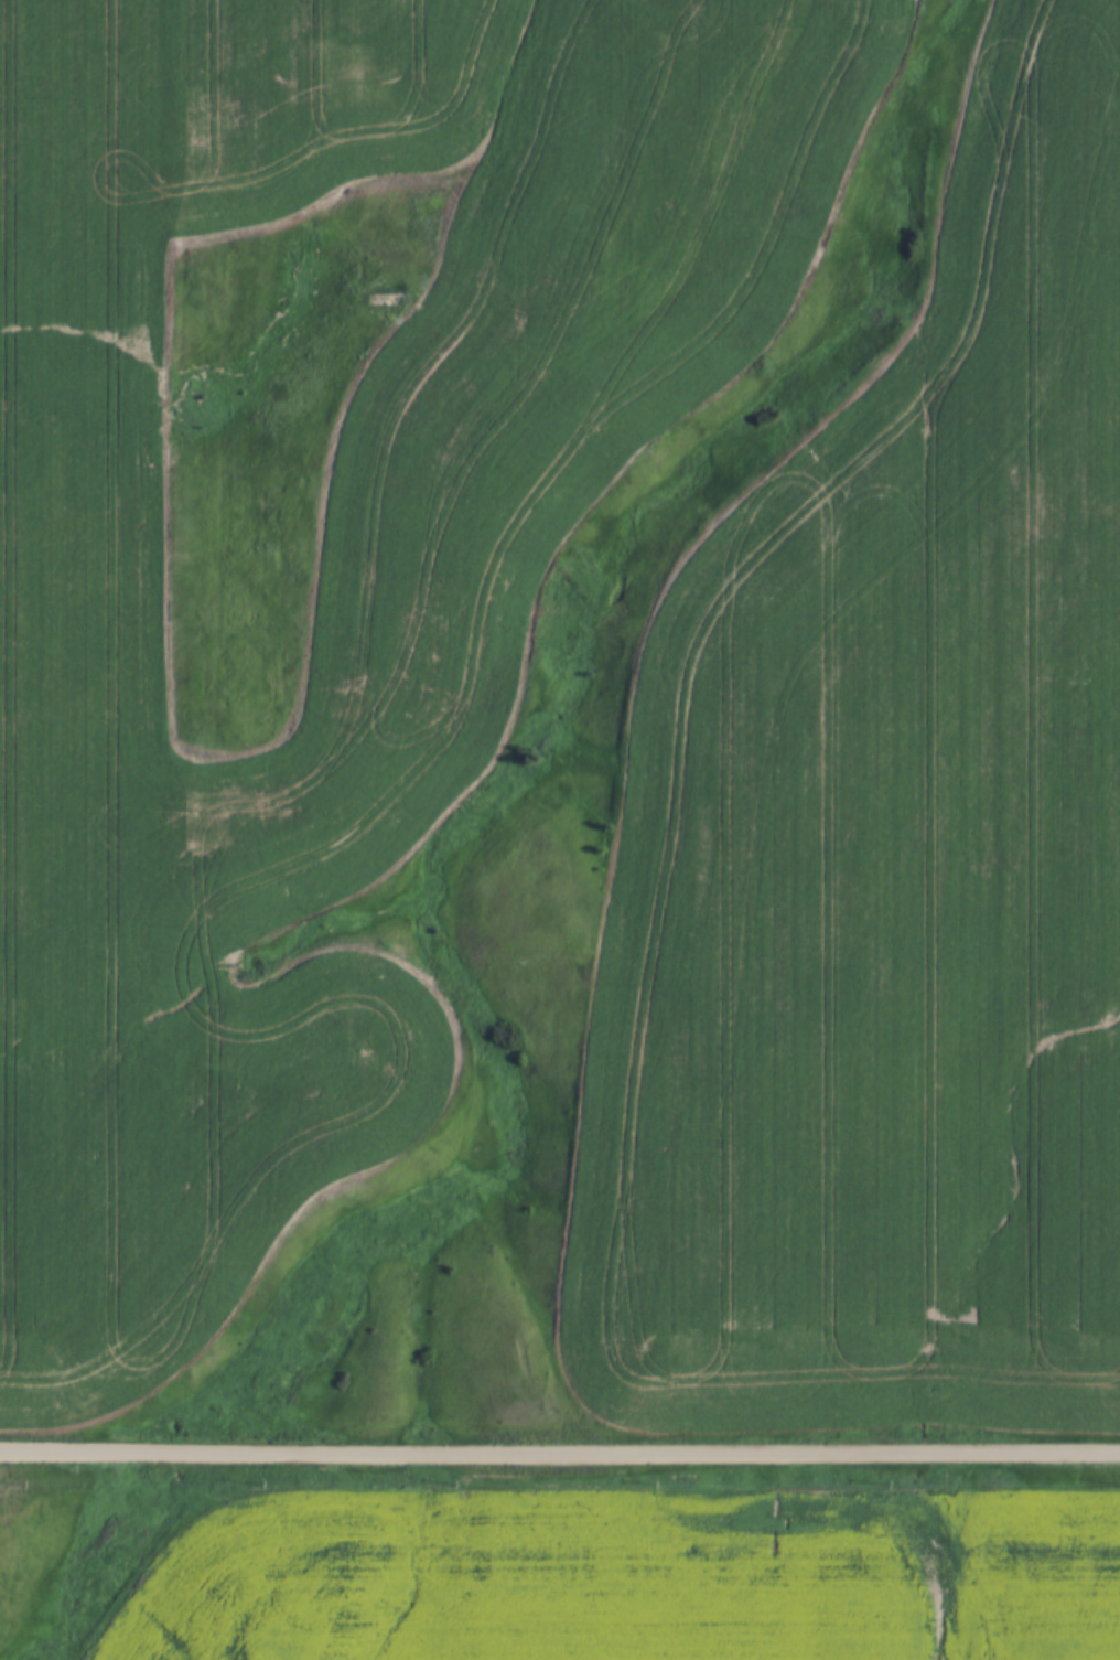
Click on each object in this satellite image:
road: (559, 1456)

